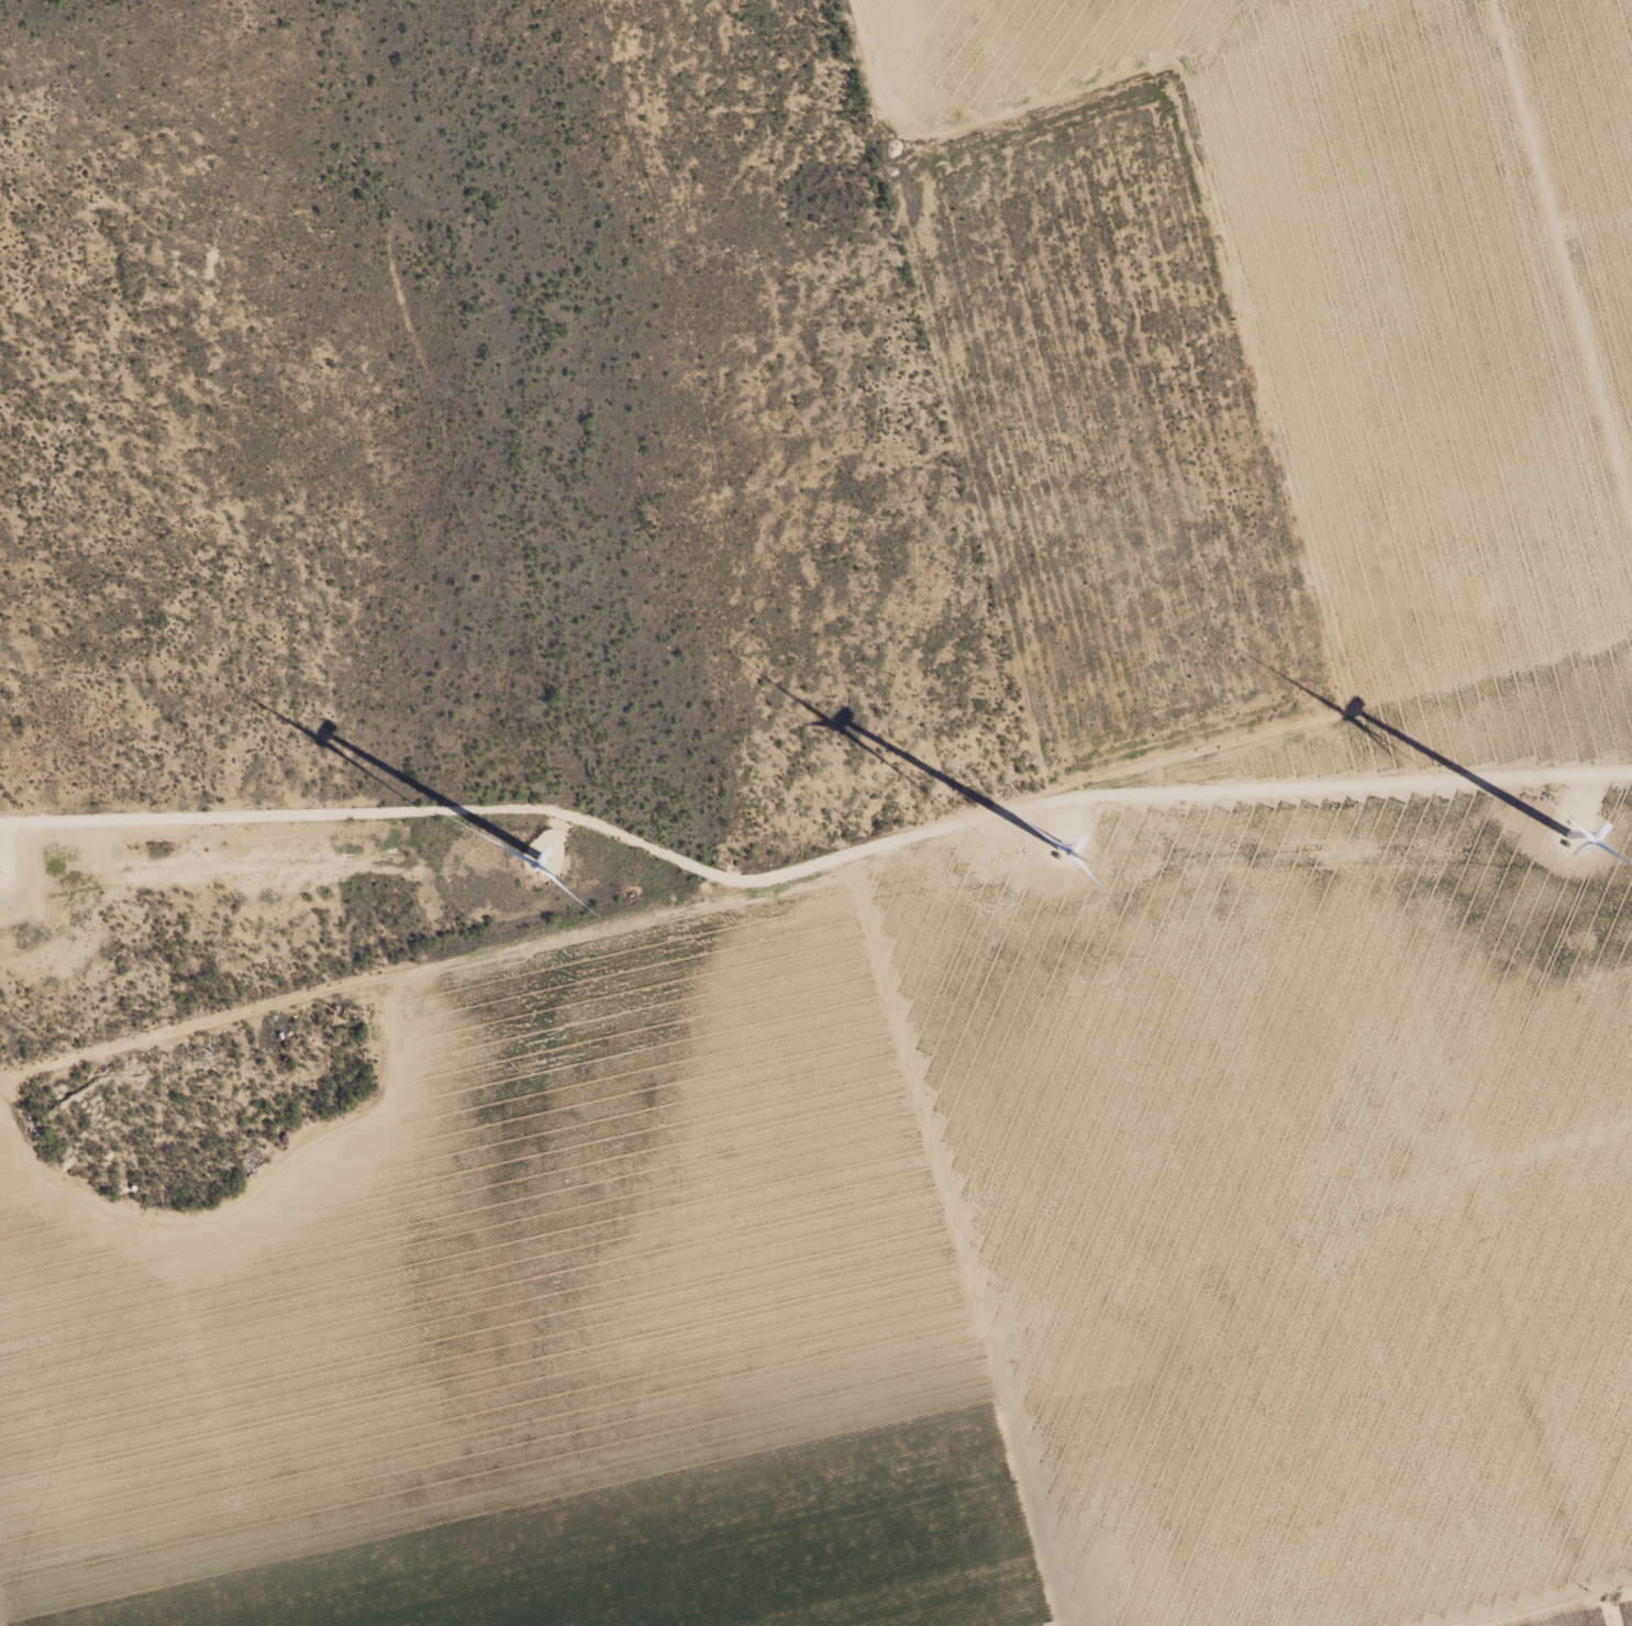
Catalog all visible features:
wind turbine: (1569, 837)
wind turbine: (1061, 849)
wind turbine: (537, 858)

